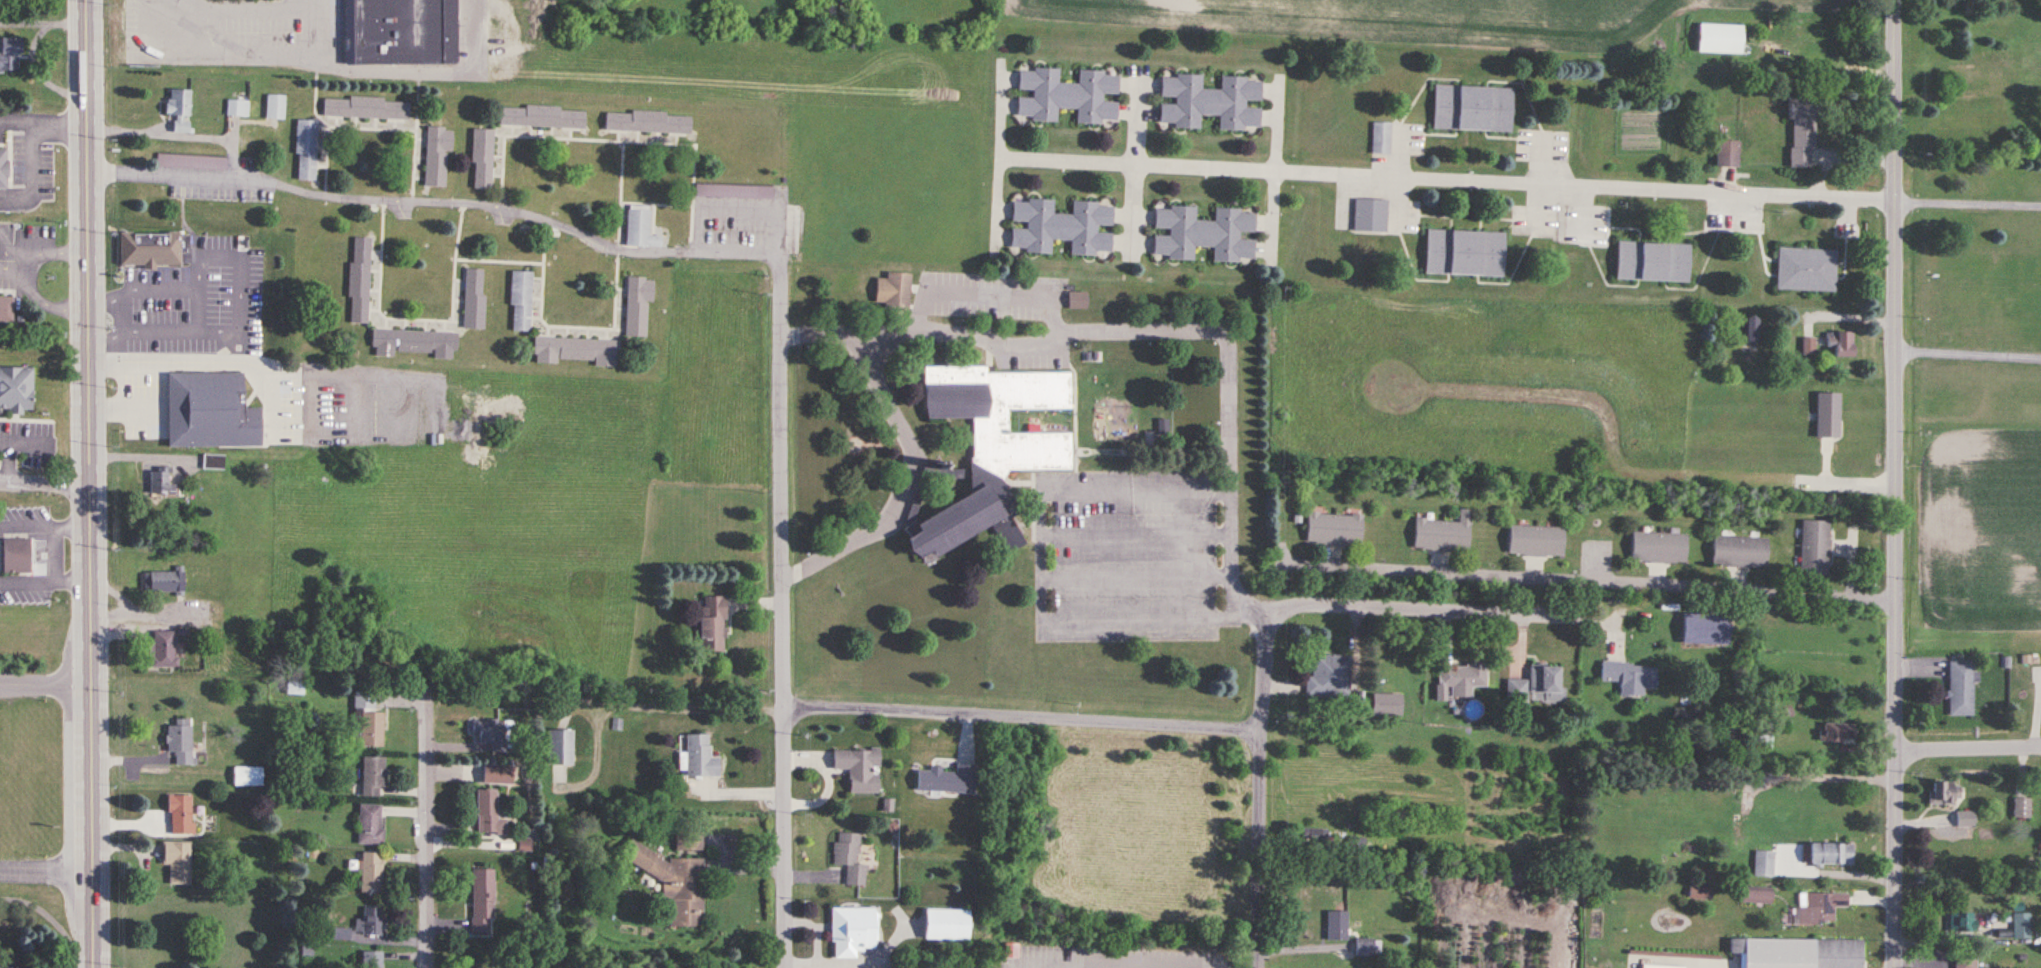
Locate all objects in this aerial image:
building: (399, 33)
building: (1720, 38)
building: (9, 56)
road: (88, 57)
building: (1067, 96)
building: (1209, 102)
building: (275, 108)
building: (237, 109)
building: (1472, 109)
building: (178, 110)
building: (365, 110)
building: (541, 118)
road: (17, 123)
building: (647, 123)
building: (1801, 132)
road: (59, 133)
road: (176, 135)
building: (1381, 139)
building: (306, 151)
building: (1727, 154)
road: (1001, 155)
road: (1399, 155)
building: (437, 156)
building: (482, 160)
road: (1543, 161)
road: (1134, 164)
building: (2, 170)
road: (1275, 170)
road: (1449, 179)
road: (31, 181)
road: (1397, 198)
road: (438, 202)
road: (1968, 203)
road: (1541, 205)
road: (718, 207)
building: (1370, 217)
building: (1061, 228)
building: (639, 229)
building: (1203, 234)
building: (154, 250)
road: (7, 251)
building: (1464, 253)
road: (53, 257)
building: (1653, 262)
building: (1806, 269)
road: (6, 276)
building: (359, 281)
building: (892, 290)
building: (474, 299)
building: (521, 301)
building: (1077, 301)
building: (638, 305)
building: (5, 307)
road: (44, 309)
road: (198, 315)
road: (1155, 329)
building: (1751, 329)
building: (413, 343)
building: (1843, 344)
building: (1808, 346)
building: (577, 351)
road: (1968, 354)
road: (128, 368)
building: (15, 390)
road: (110, 409)
building: (209, 412)
building: (1828, 415)
building: (986, 451)
building: (213, 462)
road: (5, 463)
building: (160, 481)
road: (906, 481)
road: (44, 484)
road: (1896, 484)
road: (71, 528)
road: (25, 529)
building: (1334, 529)
road: (1138, 534)
building: (1444, 534)
road: (90, 541)
building: (1536, 541)
building: (1658, 548)
building: (1815, 548)
building: (1739, 552)
building: (15, 556)
road: (51, 557)
road: (1042, 564)
road: (1138, 576)
road: (1585, 576)
building: (163, 582)
road: (25, 586)
road: (70, 586)
road: (785, 588)
road: (1446, 608)
building: (711, 625)
building: (1705, 630)
building: (164, 649)
building: (1329, 676)
building: (1630, 677)
building: (1461, 679)
building: (1547, 682)
road: (45, 684)
building: (1960, 688)
building: (1517, 691)
building: (1386, 705)
road: (1024, 716)
building: (369, 719)
building: (487, 731)
building: (1836, 733)
building: (1762, 737)
building: (180, 740)
building: (559, 746)
road: (1969, 746)
building: (699, 755)
building: (858, 767)
building: (496, 773)
building: (247, 775)
building: (372, 776)
building: (946, 778)
road: (1822, 780)
road: (1262, 792)
building: (1943, 793)
building: (2021, 808)
building: (488, 813)
building: (180, 814)
building: (1965, 819)
building: (369, 823)
building: (688, 840)
road: (428, 848)
building: (1829, 853)
building: (848, 856)
building: (176, 860)
building: (1763, 863)
building: (370, 871)
road: (46, 872)
building: (672, 882)
building: (1756, 896)
building: (481, 901)
building: (1821, 907)
building: (372, 920)
building: (1961, 921)
building: (945, 924)
building: (1337, 925)
building: (2021, 925)
building: (851, 930)
building: (1363, 947)
building: (1010, 950)
building: (1798, 953)
building: (370, 959)
building: (1965, 961)
road: (1073, 965)
road: (1064, 966)
building: (8, 967)

